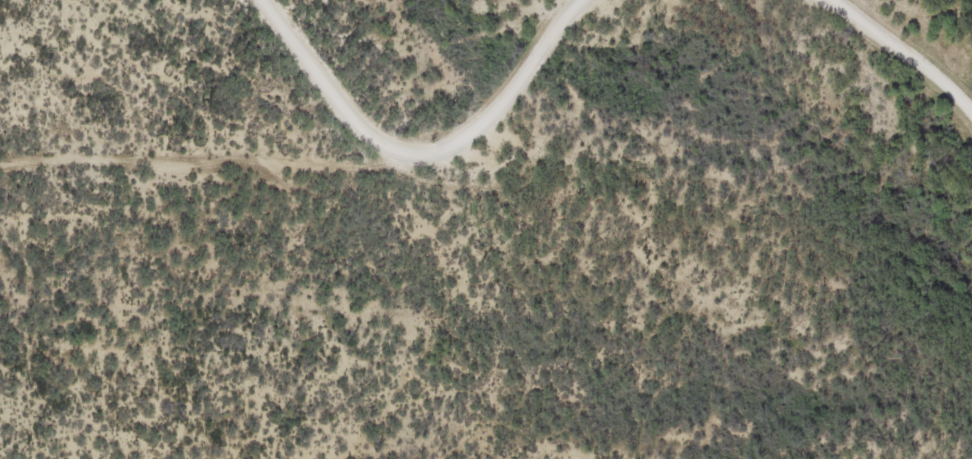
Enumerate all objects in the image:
road: (906, 51)
road: (326, 147)

